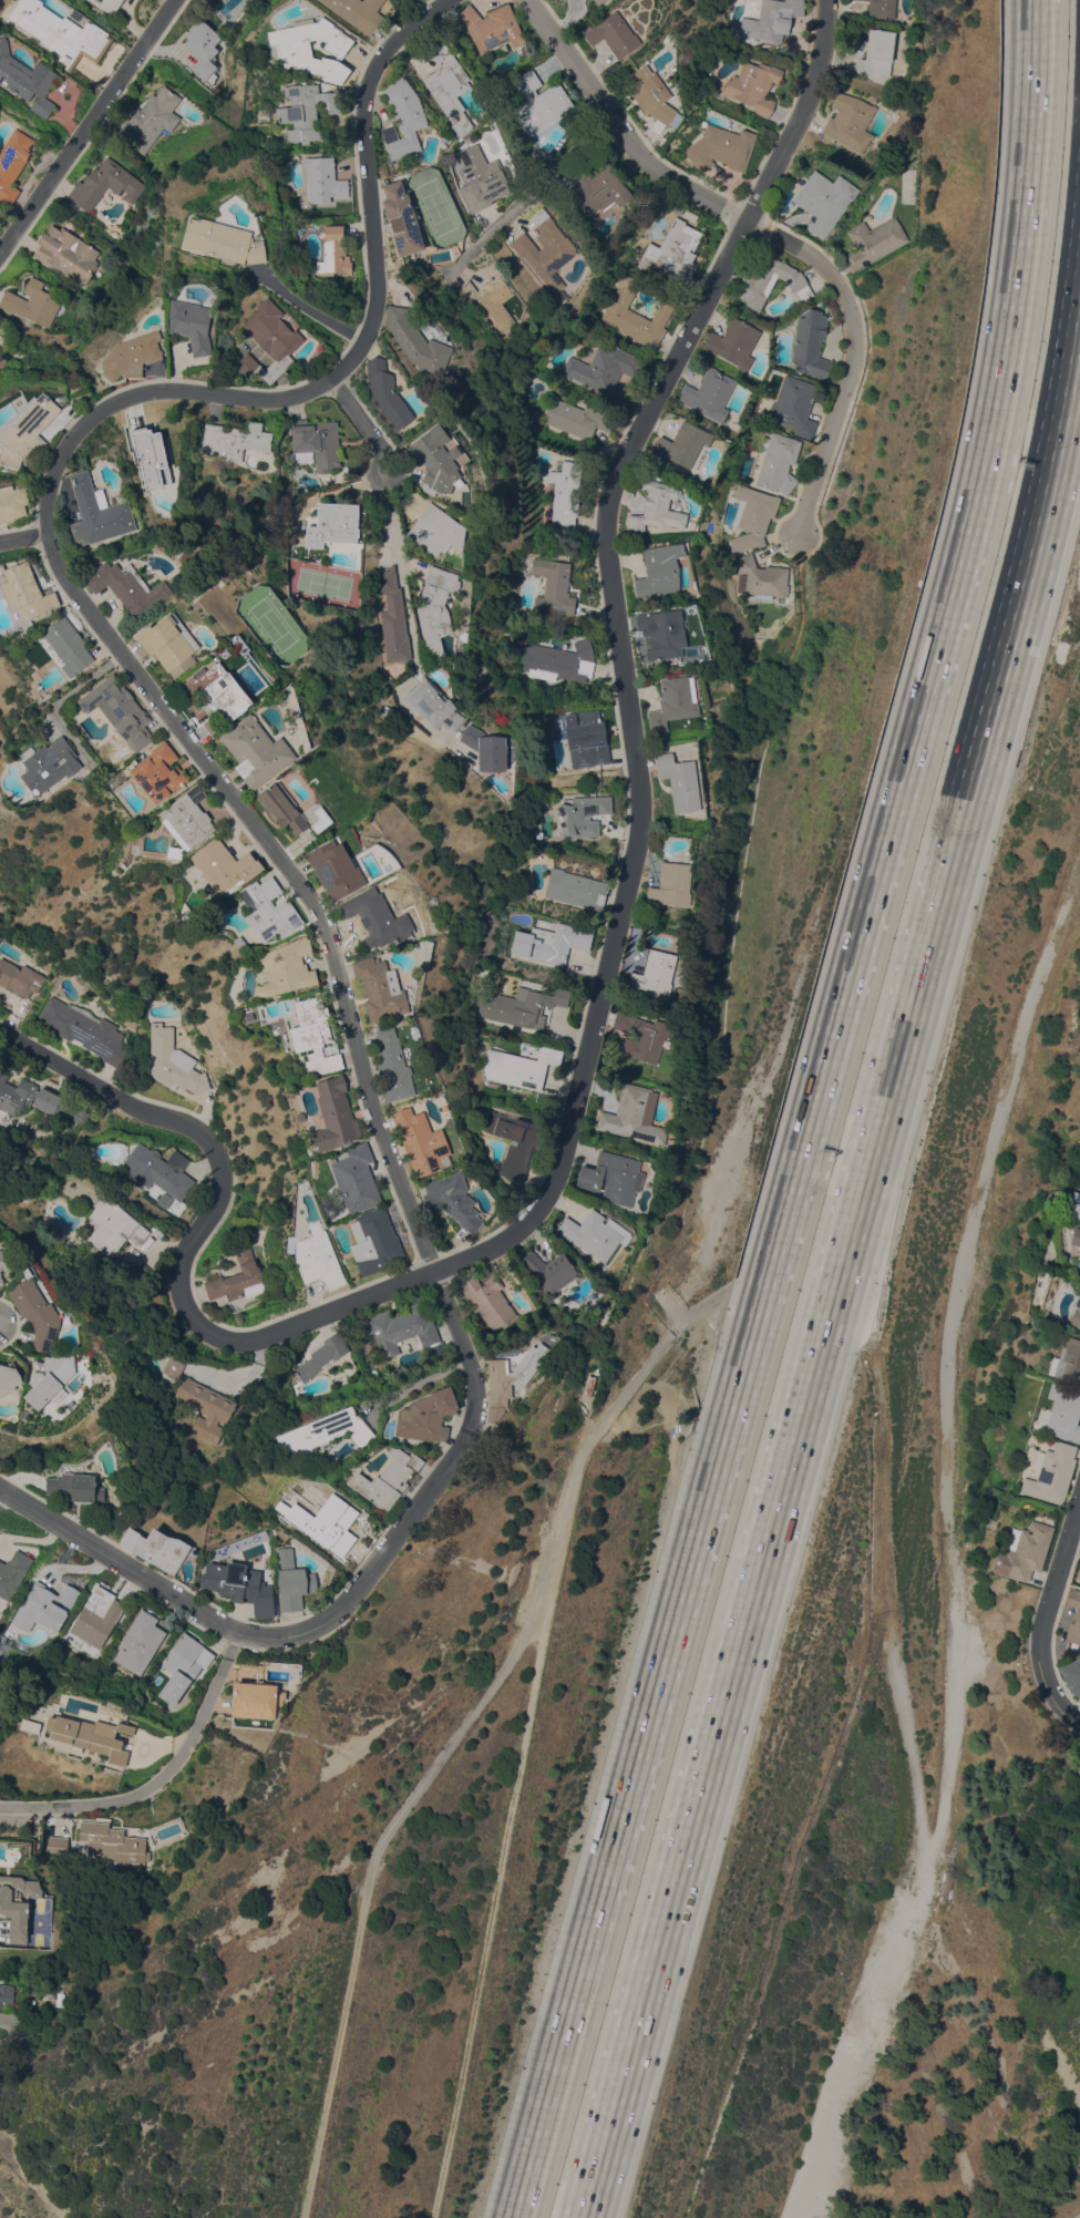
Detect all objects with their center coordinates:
building: (414, 0)
building: (416, 0)
building: (560, 0)
building: (598, 1)
building: (109, 4)
building: (882, 8)
building: (358, 12)
building: (771, 20)
building: (491, 27)
building: (62, 33)
building: (614, 34)
building: (204, 49)
building: (294, 51)
building: (877, 53)
building: (692, 63)
building: (27, 79)
building: (449, 85)
building: (754, 85)
building: (649, 96)
building: (541, 104)
building: (308, 110)
building: (403, 119)
building: (150, 120)
building: (850, 122)
road: (85, 124)
building: (464, 142)
building: (721, 147)
building: (537, 152)
building: (13, 163)
building: (323, 178)
building: (481, 178)
building: (105, 185)
building: (598, 191)
road: (529, 196)
building: (822, 201)
building: (402, 219)
road: (772, 235)
building: (224, 240)
building: (874, 240)
building: (545, 248)
building: (672, 250)
building: (333, 251)
building: (66, 253)
road: (1019, 263)
building: (771, 280)
building: (32, 302)
road: (306, 304)
building: (487, 305)
building: (636, 315)
building: (192, 325)
building: (2, 340)
building: (269, 341)
building: (416, 342)
building: (733, 342)
building: (811, 343)
building: (132, 356)
building: (604, 367)
road: (1061, 379)
building: (709, 393)
building: (391, 398)
building: (795, 405)
building: (577, 417)
road: (364, 425)
building: (27, 431)
building: (235, 439)
building: (317, 442)
building: (685, 443)
building: (151, 456)
building: (436, 460)
building: (778, 462)
road: (387, 489)
building: (566, 495)
building: (13, 503)
building: (657, 505)
building: (100, 513)
building: (752, 517)
building: (333, 524)
building: (438, 530)
road: (23, 533)
road: (54, 551)
building: (660, 571)
building: (762, 577)
building: (130, 586)
building: (553, 586)
building: (27, 591)
building: (436, 608)
building: (393, 617)
road: (410, 631)
building: (662, 633)
building: (172, 644)
building: (70, 646)
road: (623, 651)
building: (559, 661)
building: (217, 697)
building: (675, 701)
building: (433, 706)
building: (122, 710)
building: (587, 735)
building: (486, 748)
building: (257, 750)
building: (52, 764)
building: (161, 772)
building: (680, 781)
building: (544, 802)
building: (282, 807)
building: (583, 814)
building: (188, 818)
building: (176, 851)
building: (225, 865)
building: (336, 869)
building: (671, 884)
building: (576, 889)
building: (269, 910)
building: (191, 917)
building: (380, 917)
building: (240, 942)
building: (552, 942)
building: (289, 966)
building: (655, 974)
building: (19, 978)
building: (380, 988)
building: (522, 1005)
building: (80, 1026)
building: (316, 1036)
building: (642, 1037)
building: (173, 1061)
building: (393, 1066)
building: (520, 1067)
building: (34, 1100)
building: (335, 1115)
building: (634, 1115)
building: (422, 1141)
building: (514, 1141)
building: (160, 1170)
building: (357, 1178)
building: (613, 1178)
building: (453, 1199)
building: (1073, 1205)
building: (114, 1226)
road: (197, 1233)
building: (595, 1234)
building: (1076, 1236)
building: (374, 1241)
road: (775, 1255)
building: (318, 1257)
building: (4, 1261)
building: (549, 1271)
building: (238, 1277)
building: (488, 1300)
building: (37, 1313)
building: (1076, 1314)
building: (402, 1329)
building: (322, 1355)
road: (808, 1359)
building: (1068, 1362)
building: (373, 1372)
building: (512, 1375)
building: (9, 1379)
building: (51, 1380)
road: (415, 1383)
building: (589, 1386)
building: (199, 1401)
building: (1064, 1414)
building: (426, 1416)
building: (327, 1430)
building: (311, 1452)
building: (1051, 1472)
building: (389, 1478)
building: (75, 1486)
building: (332, 1524)
building: (265, 1532)
building: (157, 1548)
building: (1024, 1550)
building: (12, 1573)
building: (1078, 1574)
building: (292, 1580)
building: (243, 1584)
building: (45, 1606)
road: (340, 1609)
road: (1042, 1614)
building: (97, 1616)
building: (1073, 1616)
building: (140, 1642)
building: (184, 1665)
building: (992, 1667)
building: (1072, 1675)
building: (256, 1698)
building: (1079, 1703)
road: (472, 1712)
building: (30, 1725)
building: (91, 1735)
road: (160, 1779)
building: (112, 1842)
building: (56, 1844)
building: (17, 1903)
building: (7, 1993)
road: (547, 2103)

